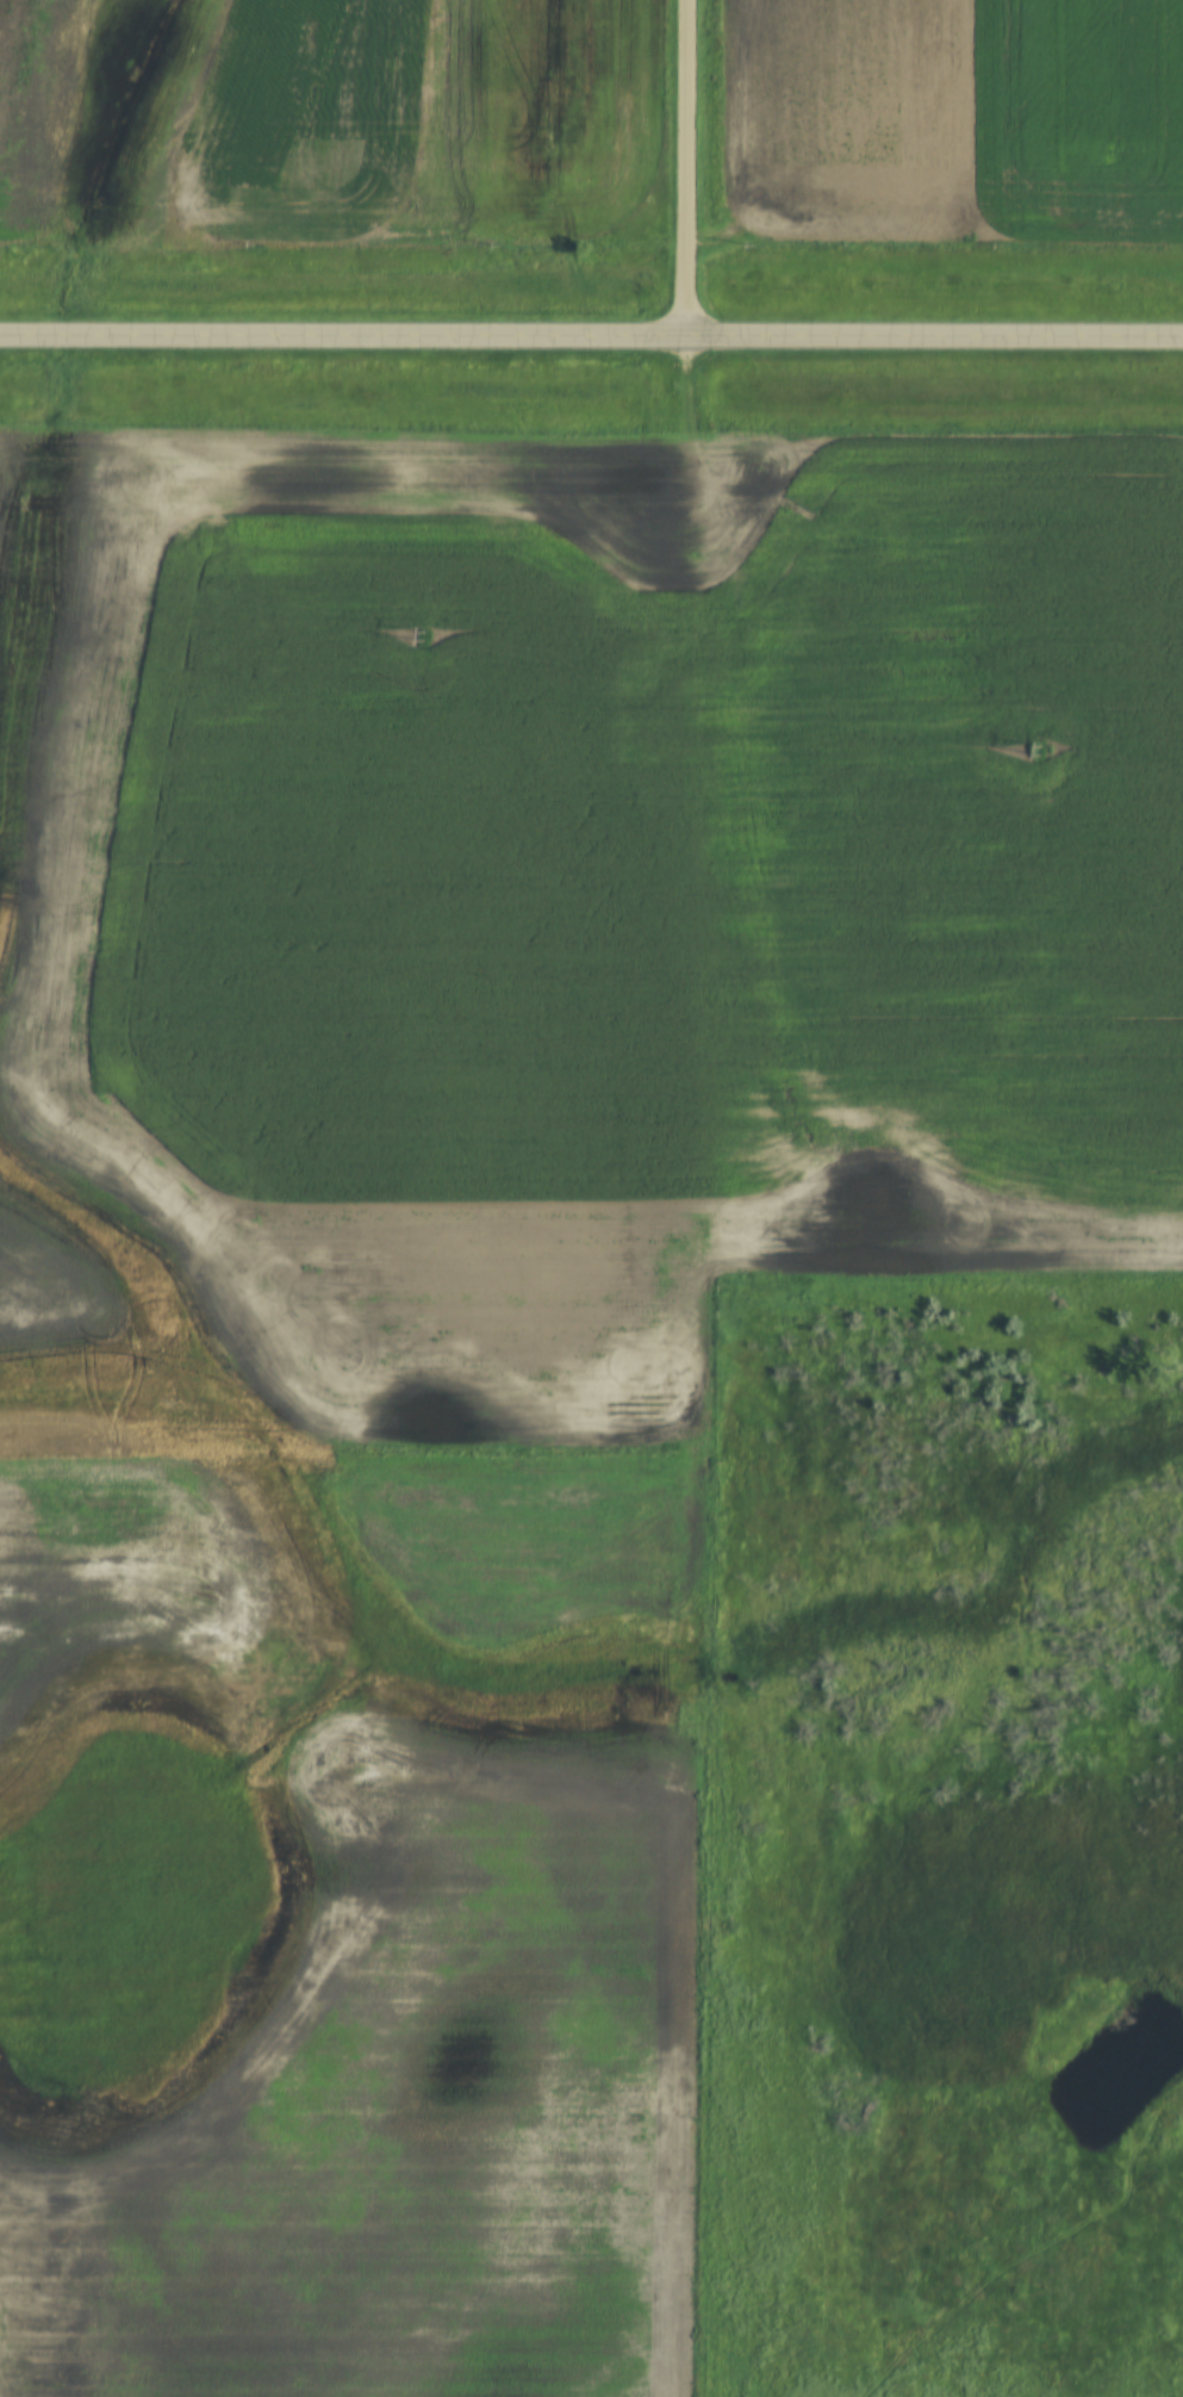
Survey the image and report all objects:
building: (329, 37)
crop: (953, 120)
crop: (326, 123)
road: (690, 169)
road: (591, 337)
power tower: (423, 636)
power tower: (1039, 749)
crop: (561, 908)
crop: (137, 1583)
crop: (387, 2209)

